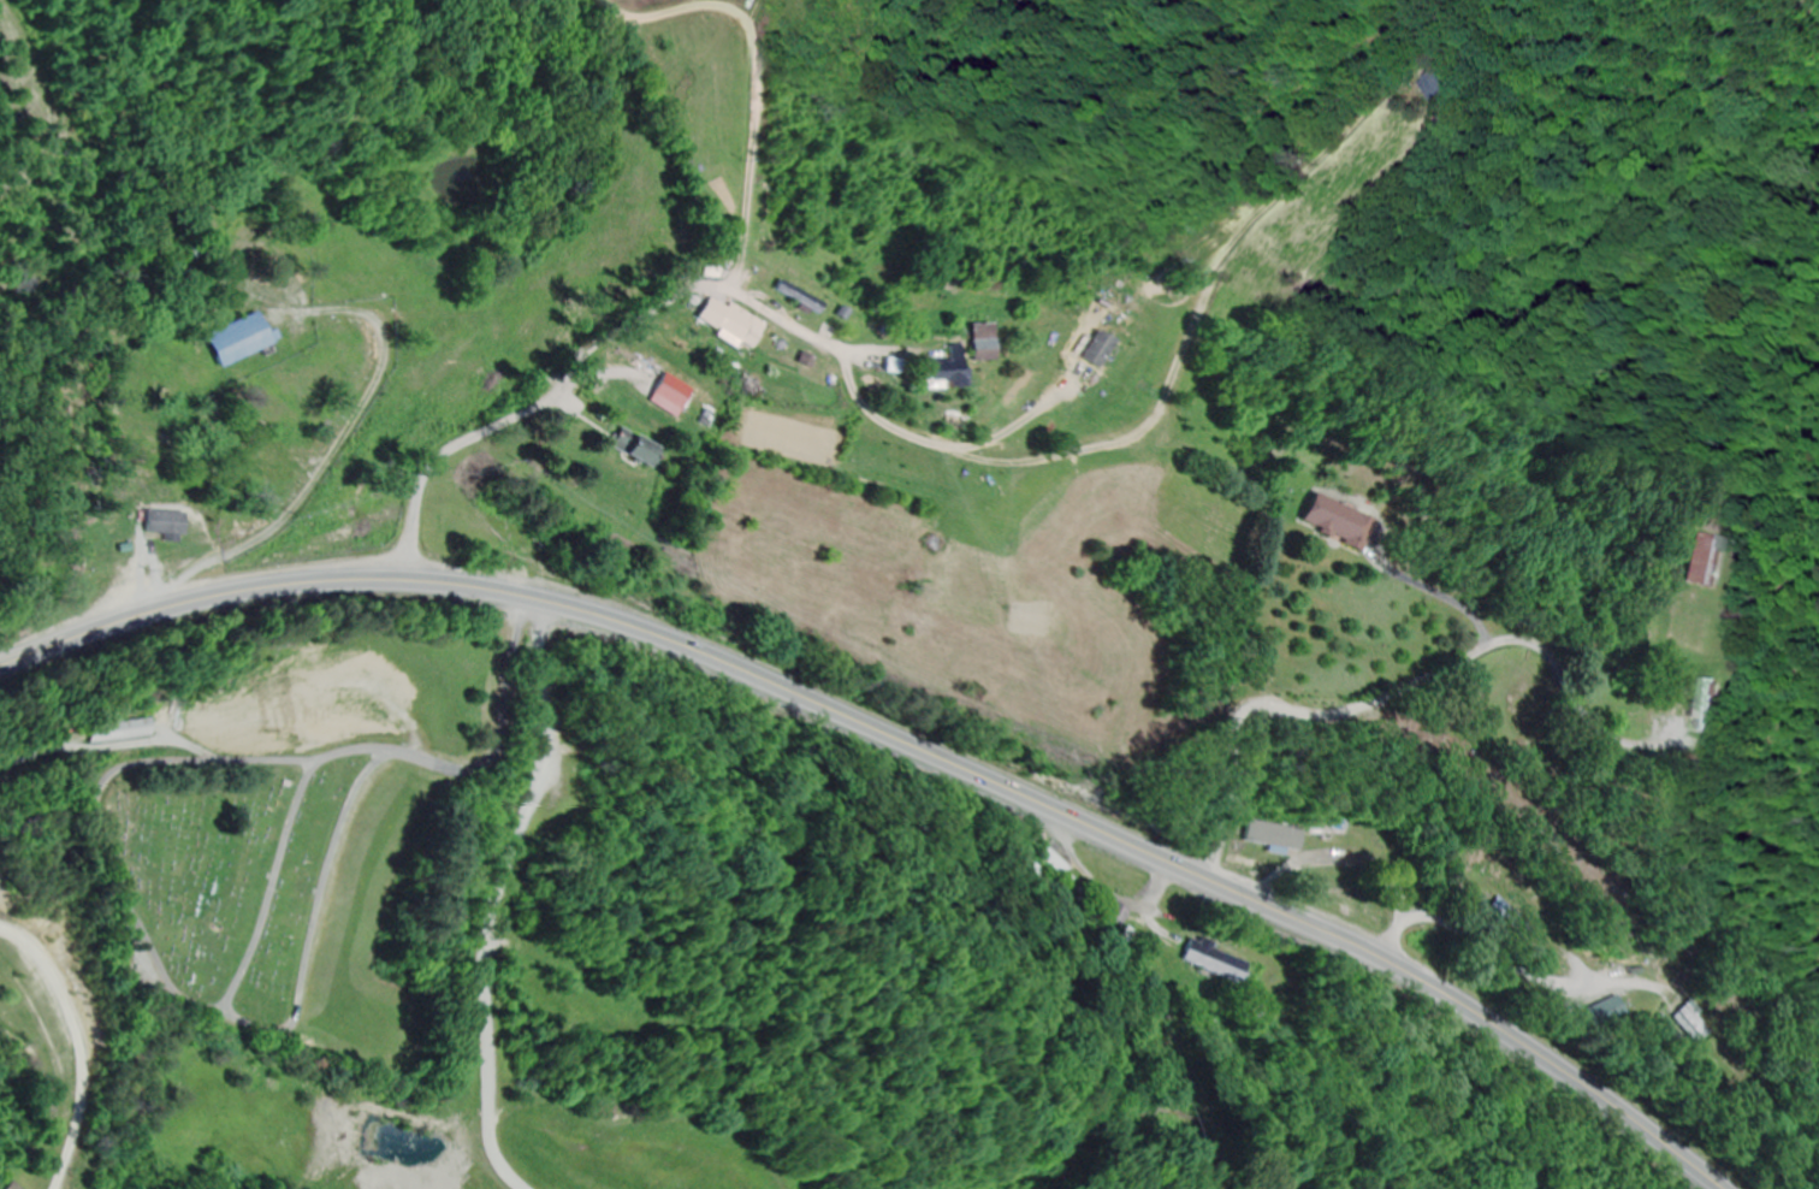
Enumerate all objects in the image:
building: (1438, 90)
road: (723, 231)
road: (307, 278)
building: (722, 320)
building: (977, 344)
road: (592, 347)
building: (938, 373)
building: (666, 396)
road: (1386, 410)
road: (1156, 504)
building: (1334, 522)
building: (164, 525)
building: (1702, 562)
building: (1704, 705)
building: (215, 718)
building: (113, 730)
road: (897, 741)
road: (480, 759)
building: (1329, 839)
park: (268, 889)
building: (1208, 963)
building: (1685, 1024)
road: (503, 1057)
building: (7, 1185)

